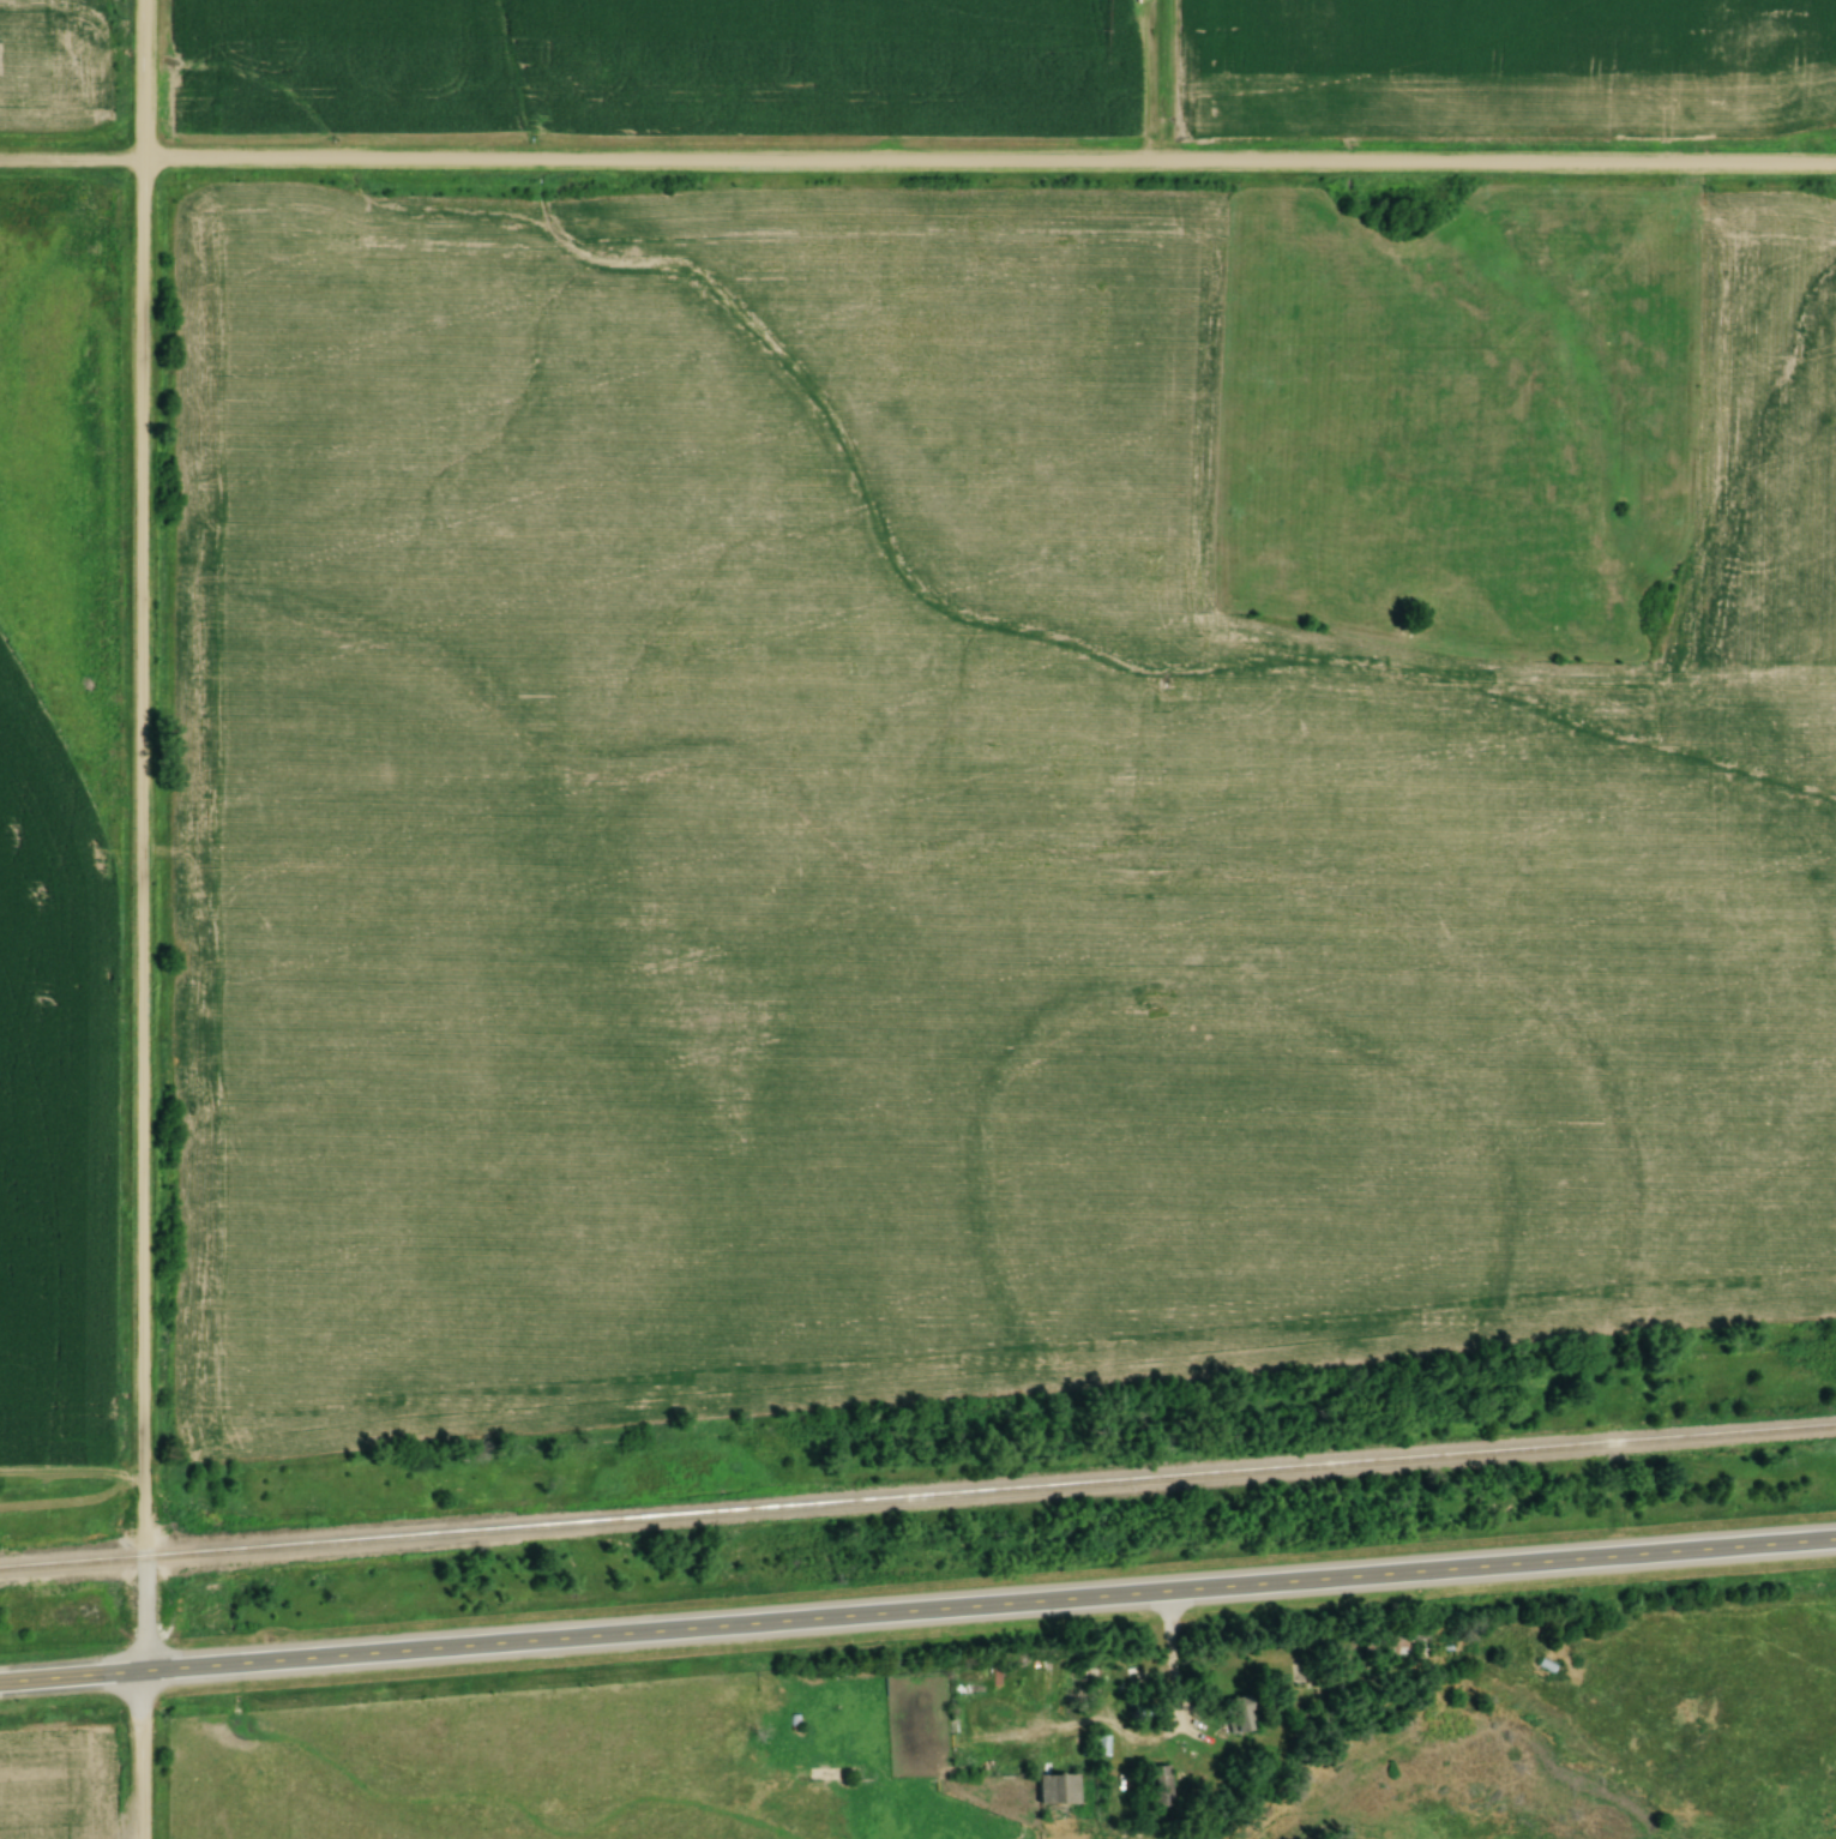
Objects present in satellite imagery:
road: (73, 158)
road: (991, 163)
road: (144, 919)
railway: (917, 1509)
road: (989, 1606)
building: (1390, 1646)
road: (72, 1676)
road: (1173, 1687)
building: (1143, 1709)
building: (1239, 1724)
building: (1310, 1726)
building: (1102, 1745)
building: (1060, 1789)

